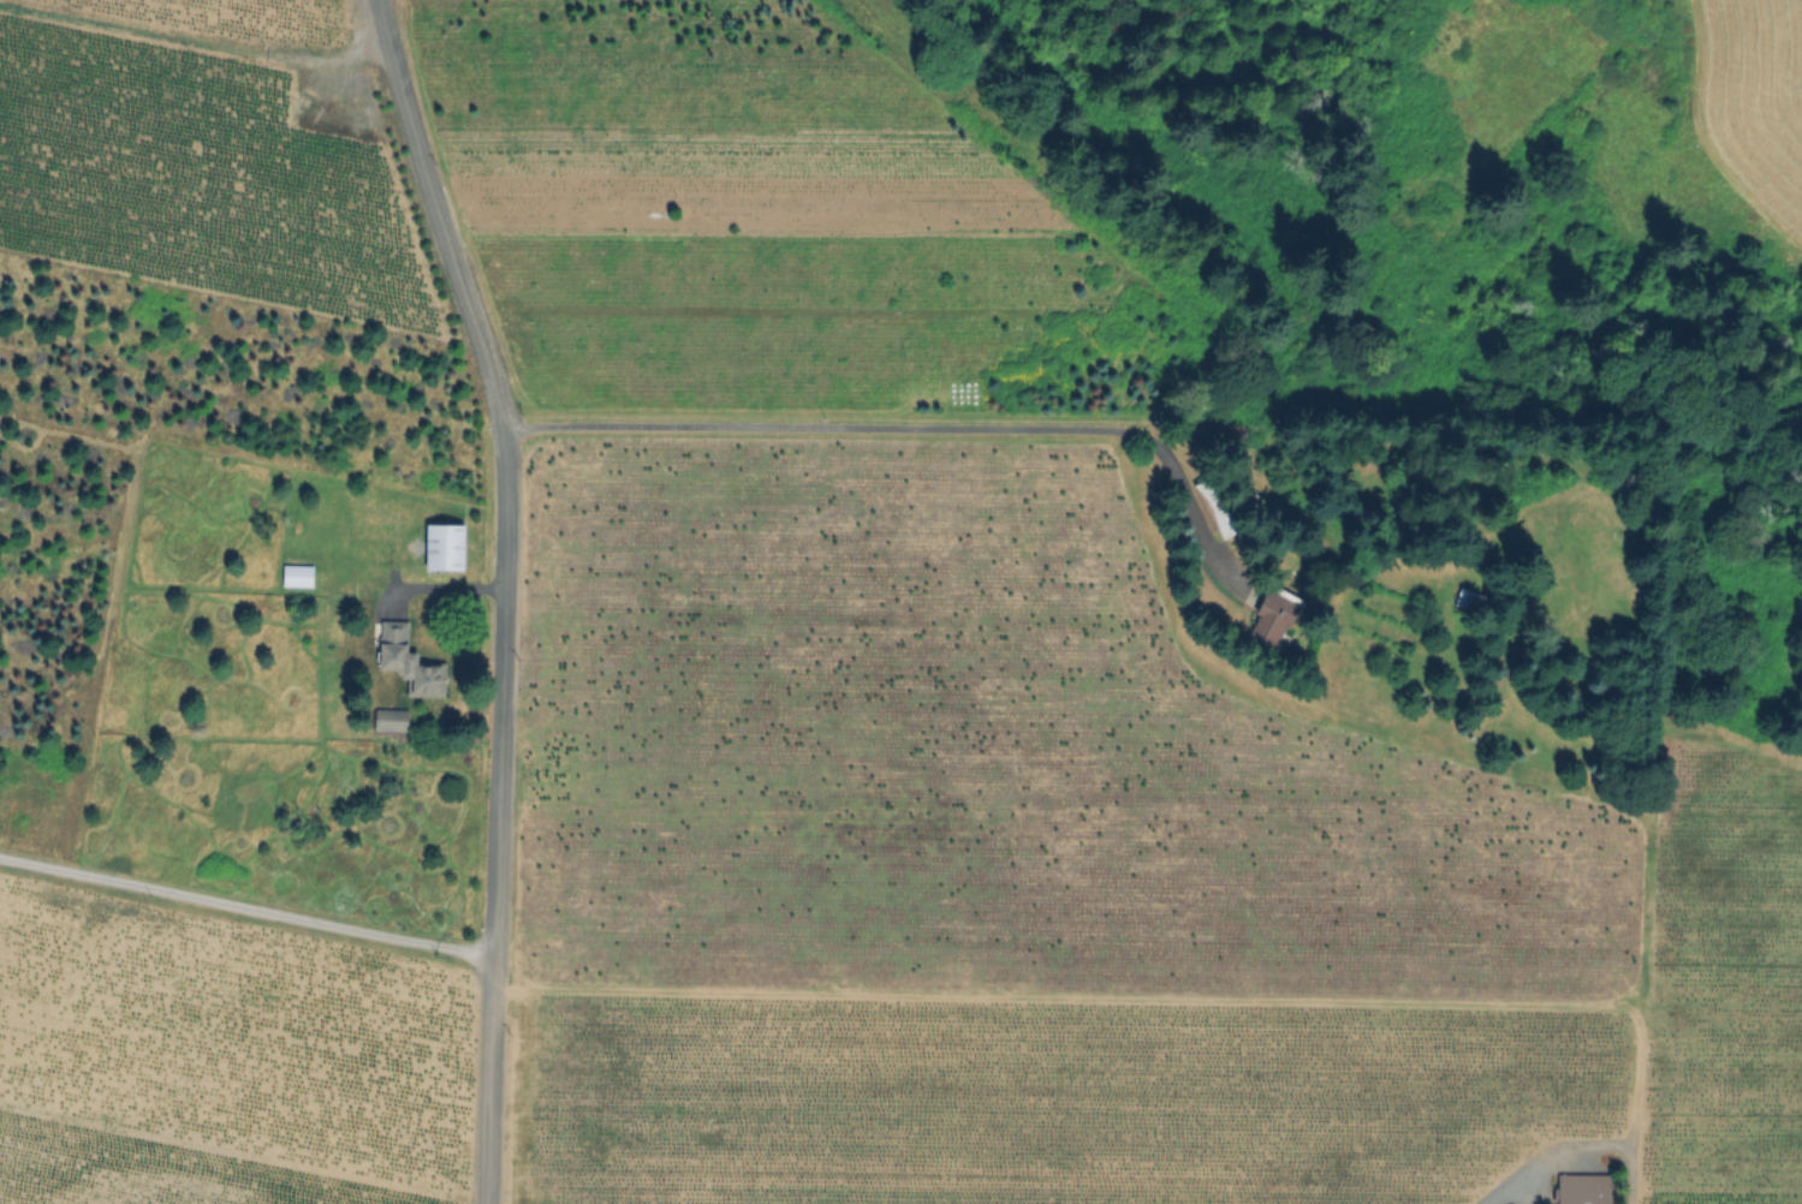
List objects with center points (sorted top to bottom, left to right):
road: (194, 41)
road: (912, 428)
building: (1238, 430)
building: (1254, 501)
building: (1220, 507)
building: (447, 547)
building: (299, 576)
road: (445, 590)
road: (510, 591)
building: (1479, 603)
building: (1278, 616)
building: (411, 662)
building: (392, 720)
road: (249, 908)
building: (1583, 1190)

